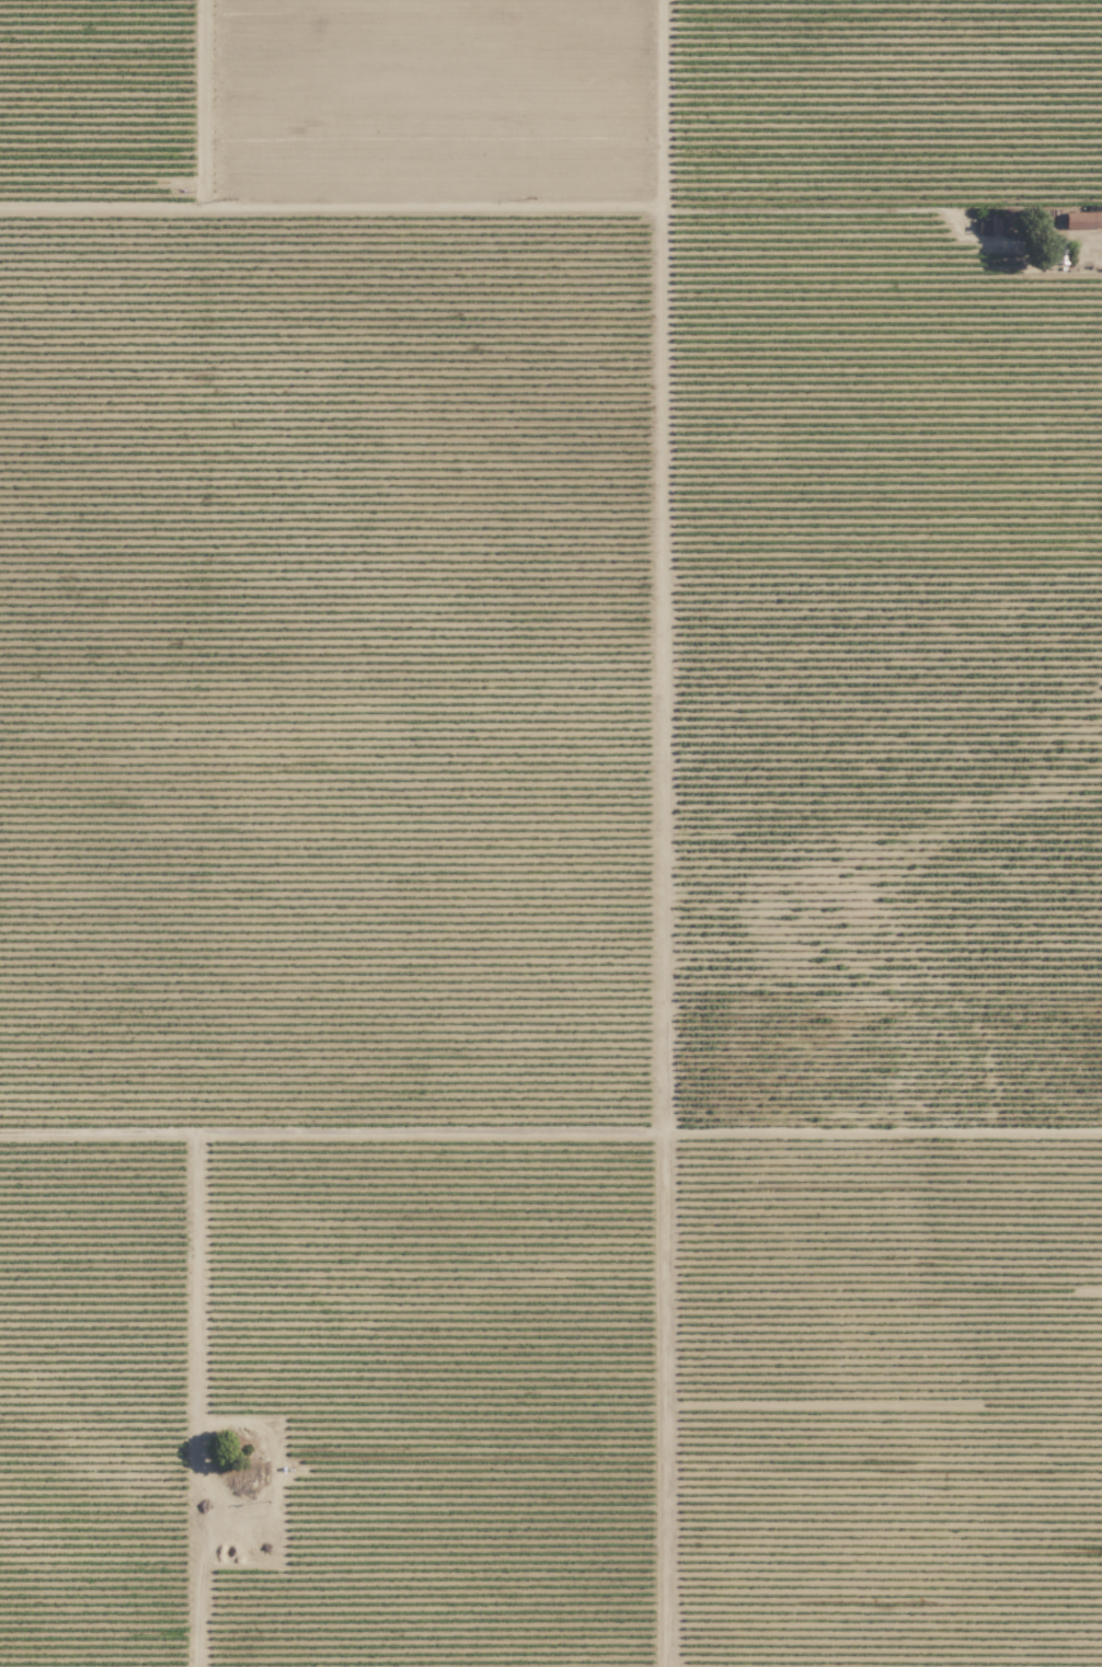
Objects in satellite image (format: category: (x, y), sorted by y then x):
road: (597, 1133)
road: (196, 1399)

